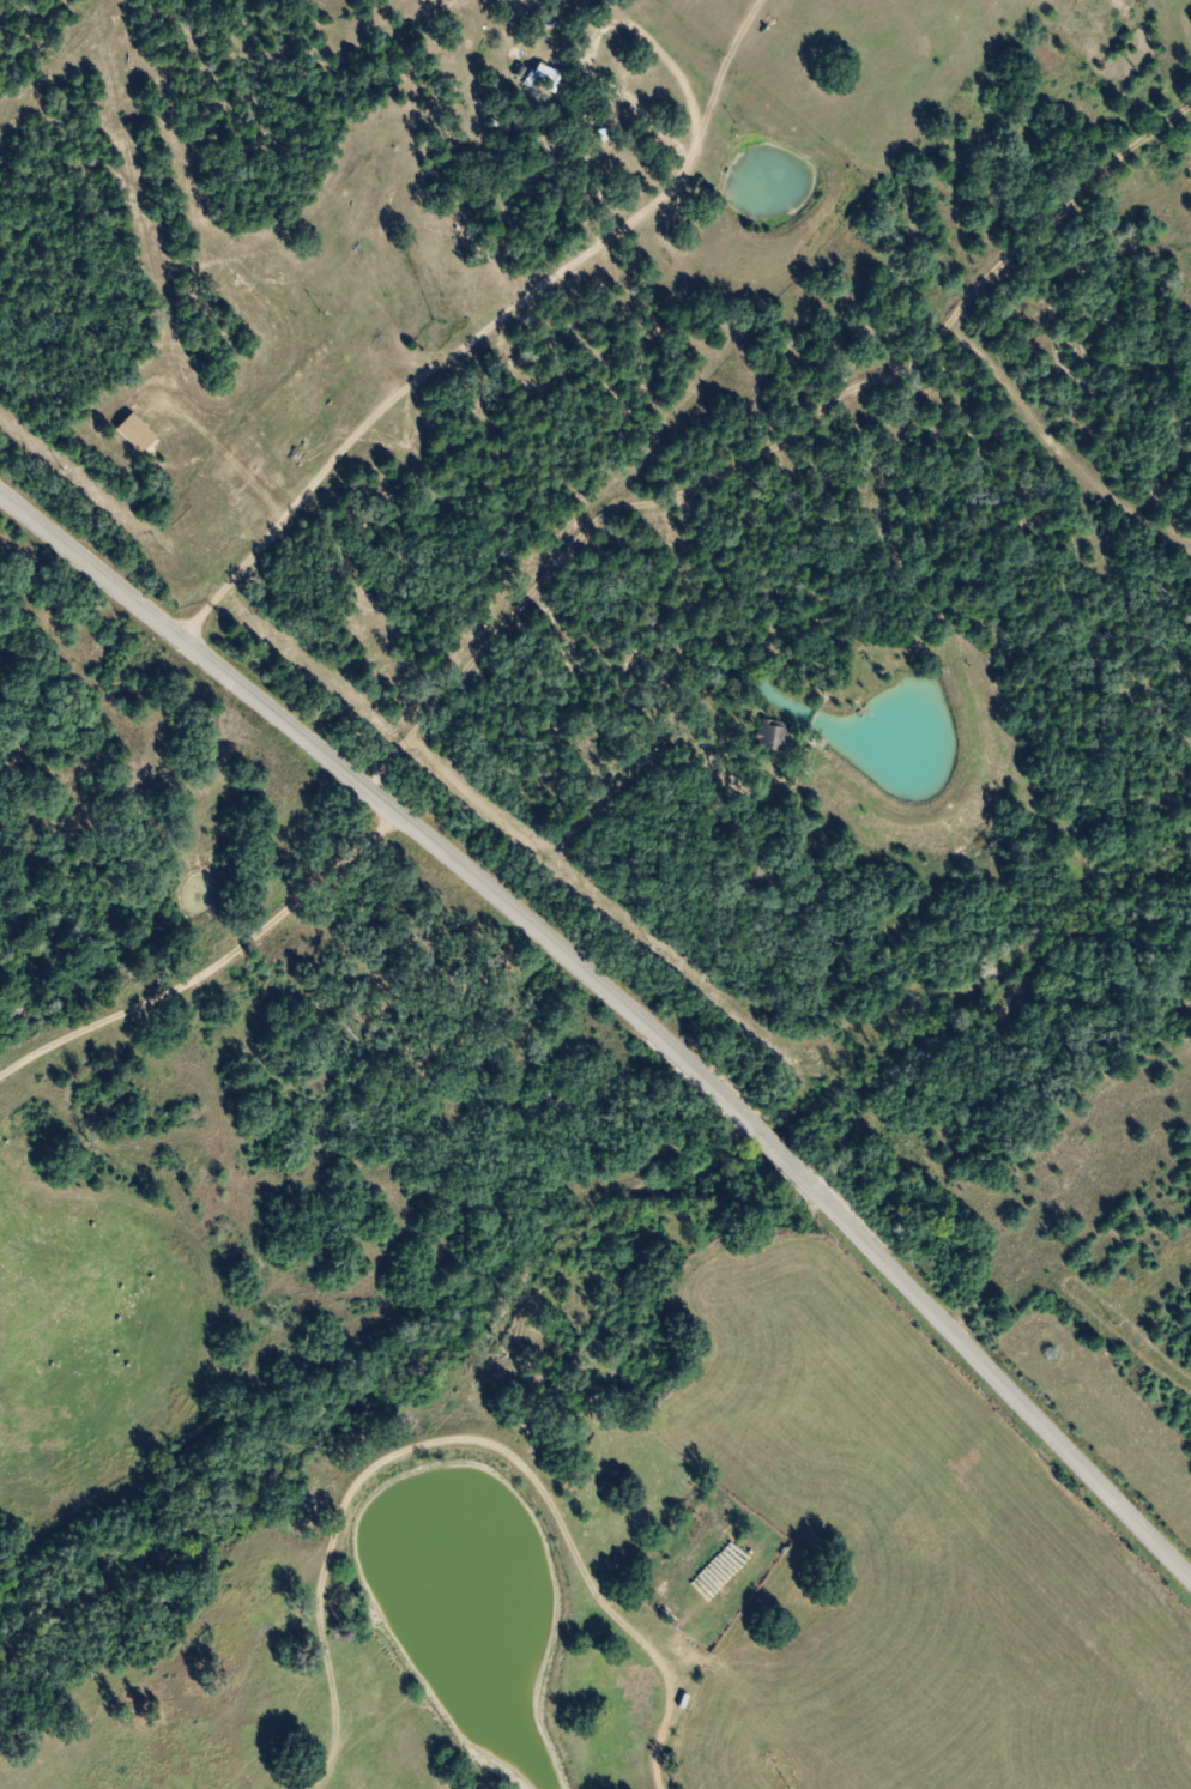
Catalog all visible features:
road: (59, 54)
building: (542, 79)
road: (89, 424)
building: (133, 431)
road: (314, 631)
road: (850, 666)
building: (770, 735)
road: (211, 971)
road: (627, 1008)

